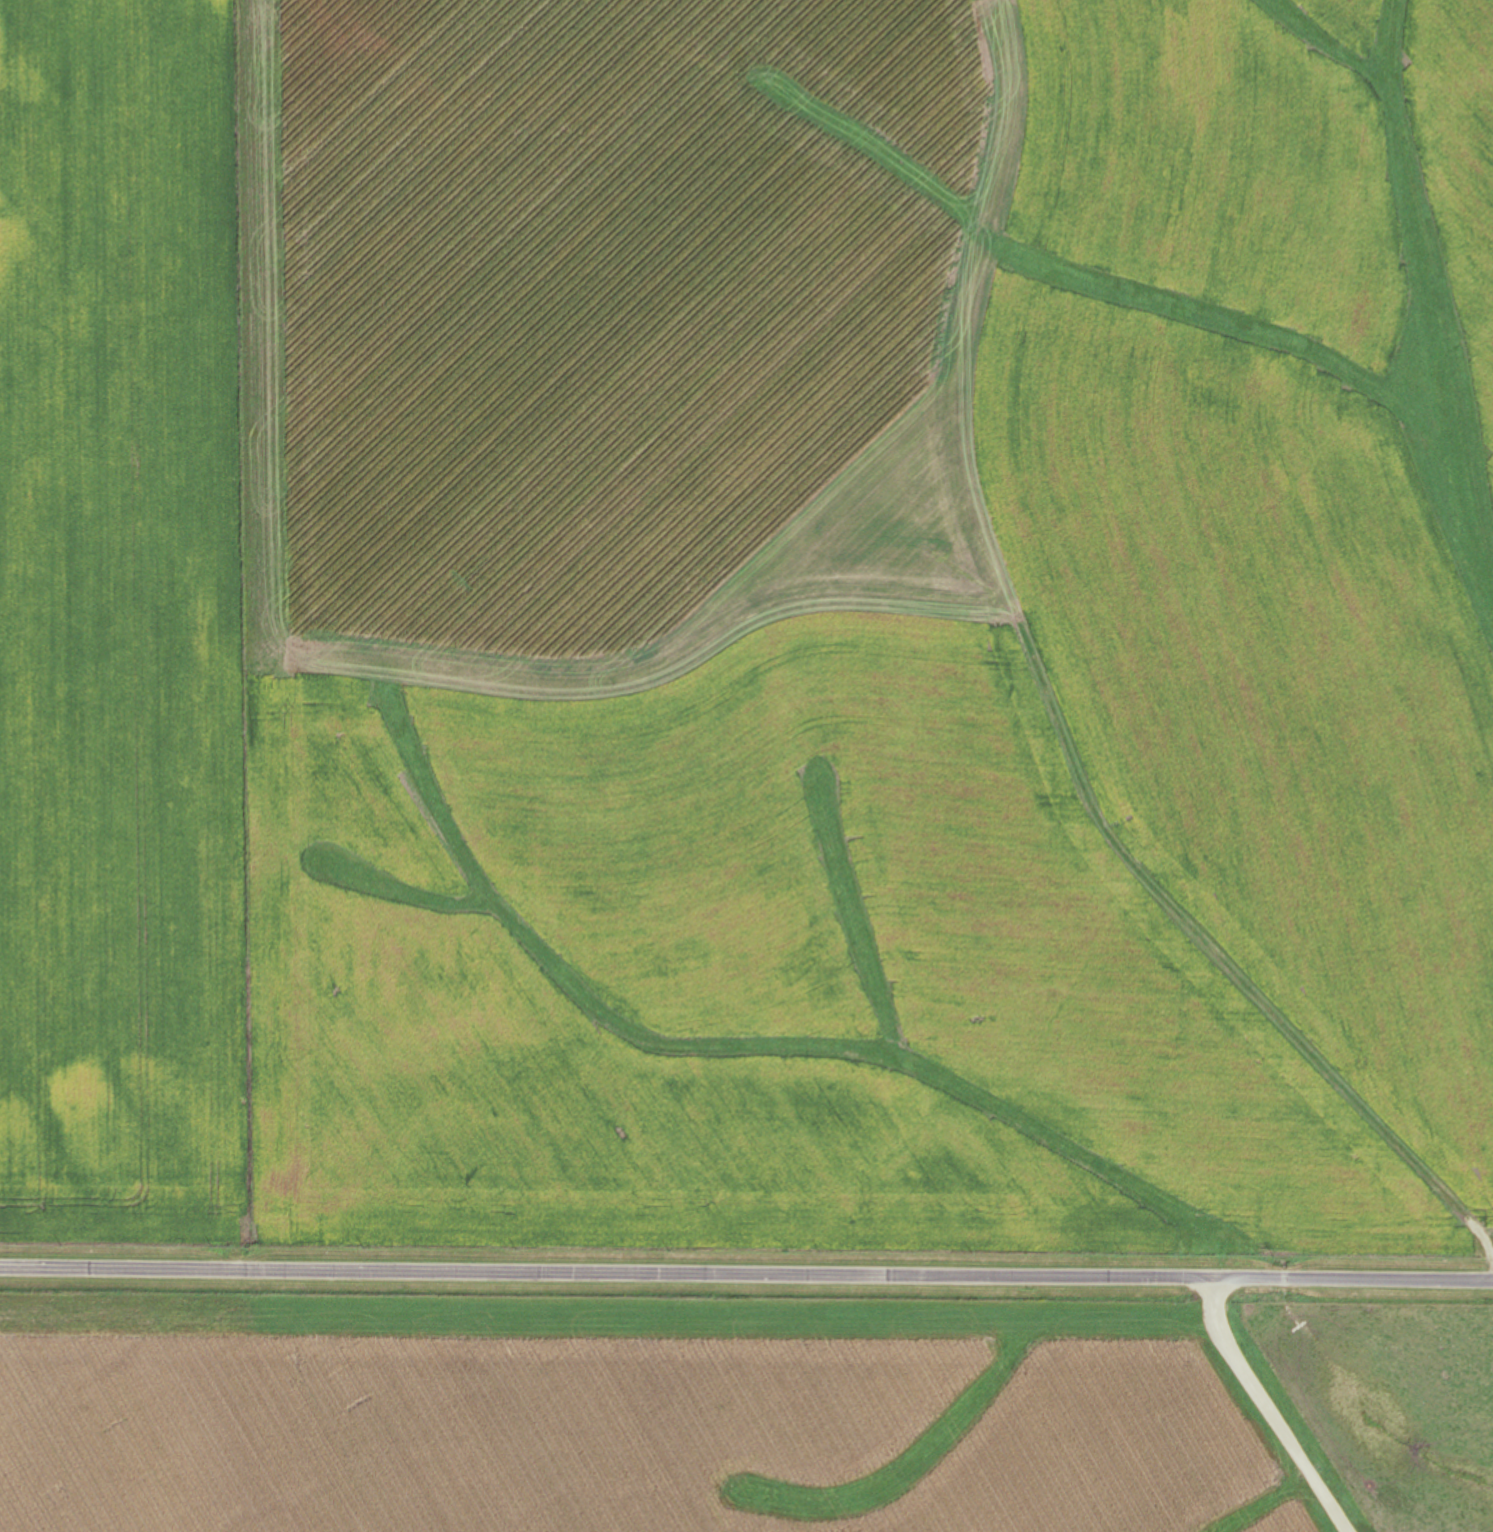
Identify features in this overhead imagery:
road: (746, 1277)
road: (1268, 1410)

